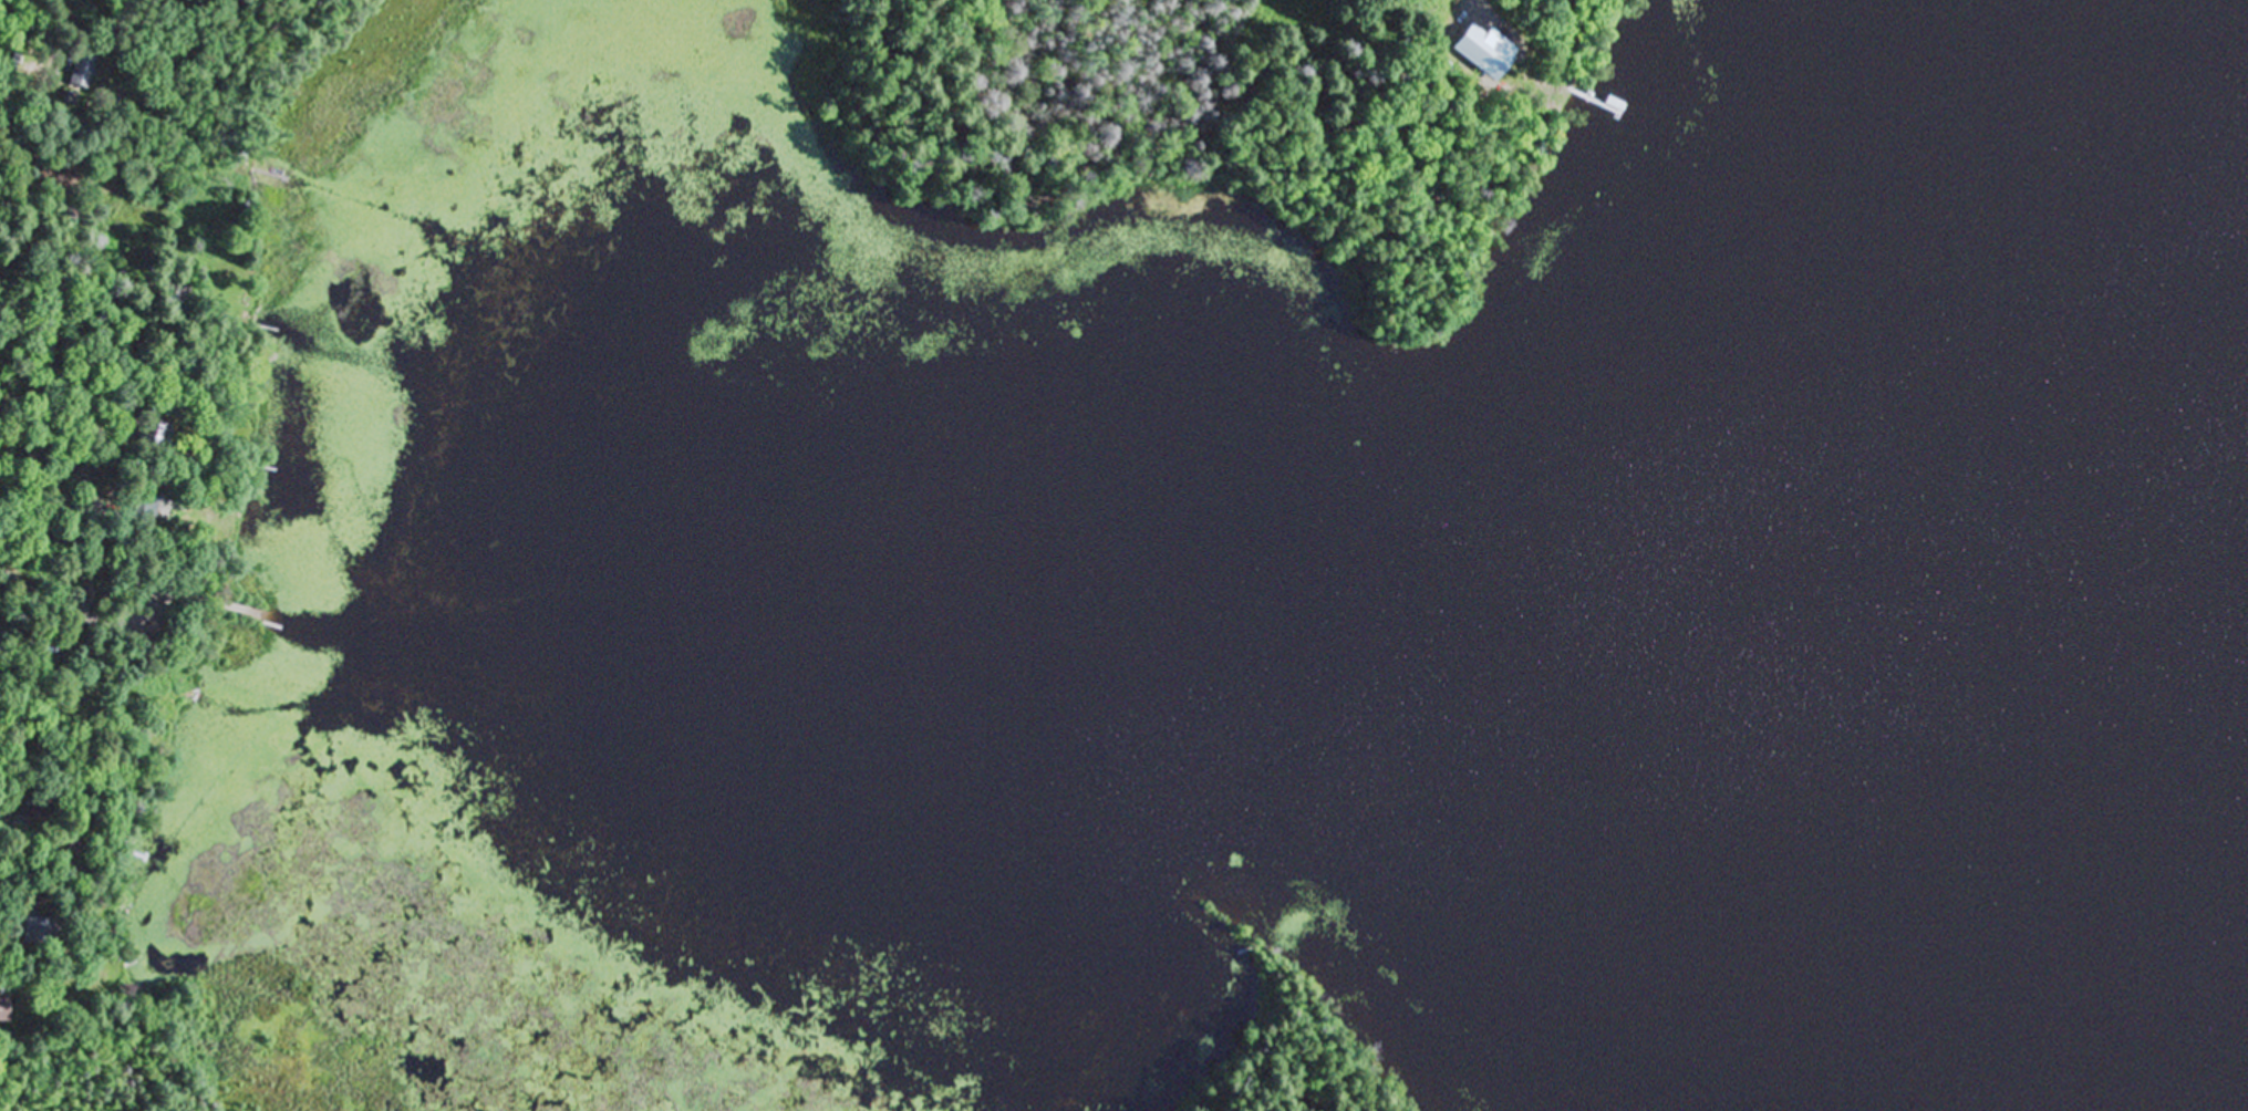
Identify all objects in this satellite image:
building: (96, 72)
building: (141, 509)
road: (99, 617)
building: (63, 858)
building: (39, 930)
building: (6, 1007)

